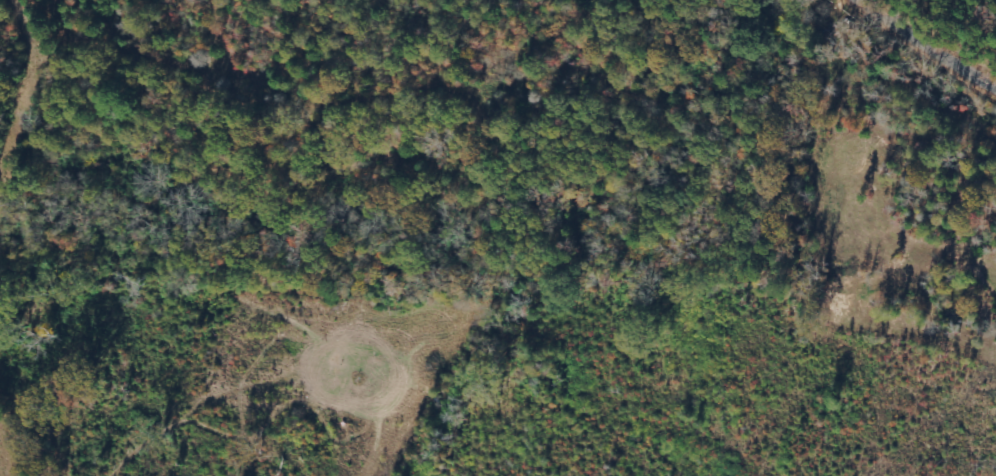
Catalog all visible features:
road: (928, 45)

